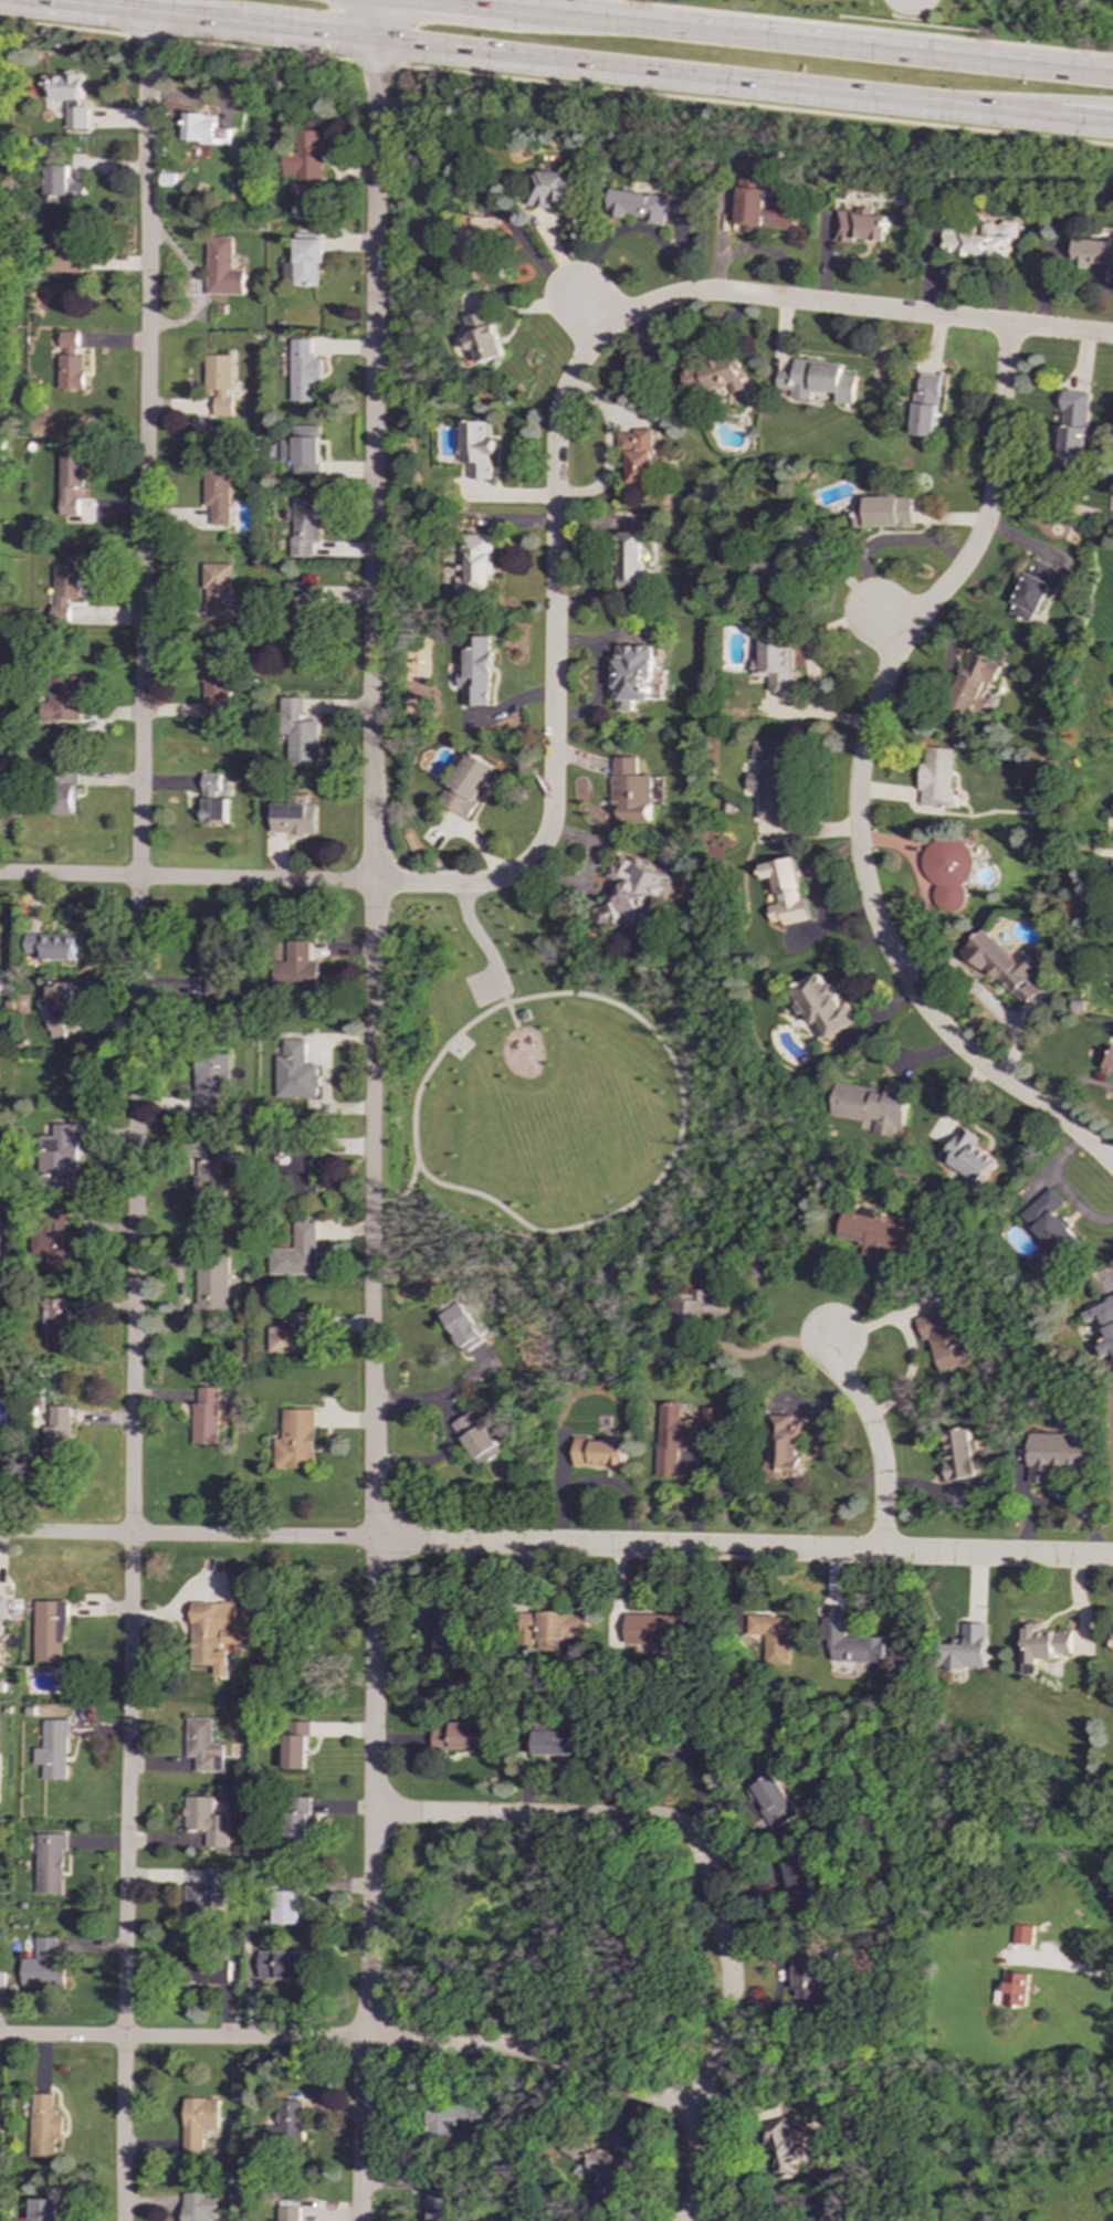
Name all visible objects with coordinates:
park: (969, 21)
road: (63, 28)
road: (859, 28)
road: (775, 36)
road: (151, 38)
road: (262, 50)
road: (556, 60)
road: (374, 62)
building: (67, 96)
road: (1030, 101)
road: (756, 105)
road: (1083, 122)
building: (204, 129)
building: (307, 164)
building: (63, 187)
building: (554, 190)
building: (638, 207)
building: (762, 208)
building: (860, 225)
building: (980, 239)
building: (475, 242)
building: (67, 253)
building: (1093, 253)
building: (304, 263)
building: (221, 269)
road: (852, 307)
road: (587, 315)
building: (482, 336)
building: (67, 340)
building: (302, 370)
building: (70, 372)
building: (716, 375)
building: (818, 381)
building: (219, 383)
building: (926, 404)
building: (1073, 429)
building: (0, 441)
building: (303, 450)
building: (638, 454)
building: (70, 482)
building: (218, 495)
building: (882, 512)
building: (305, 526)
building: (787, 560)
building: (475, 562)
building: (632, 562)
building: (67, 581)
road: (555, 586)
building: (1033, 590)
building: (218, 593)
building: (307, 593)
road: (891, 621)
building: (304, 632)
building: (776, 662)
building: (475, 672)
building: (633, 675)
building: (974, 686)
building: (217, 688)
building: (63, 696)
building: (300, 733)
road: (372, 770)
road: (140, 776)
building: (770, 779)
building: (935, 779)
road: (858, 780)
building: (469, 785)
building: (632, 790)
building: (65, 791)
building: (212, 800)
building: (295, 817)
building: (947, 870)
road: (277, 881)
building: (786, 892)
building: (631, 894)
road: (482, 943)
building: (51, 947)
building: (213, 964)
building: (1001, 965)
building: (297, 967)
road: (501, 988)
building: (821, 1004)
building: (59, 1008)
road: (512, 1014)
building: (524, 1015)
park: (458, 1046)
building: (1109, 1065)
building: (295, 1073)
building: (211, 1080)
road: (1074, 1081)
building: (873, 1105)
park: (561, 1110)
building: (60, 1156)
building: (968, 1158)
building: (295, 1171)
building: (217, 1173)
road: (403, 1191)
road: (589, 1222)
building: (1050, 1222)
building: (879, 1234)
building: (53, 1246)
building: (296, 1253)
building: (211, 1286)
building: (696, 1308)
building: (56, 1322)
building: (1101, 1323)
building: (463, 1326)
building: (294, 1335)
building: (945, 1338)
building: (207, 1417)
building: (682, 1435)
building: (59, 1436)
road: (874, 1438)
building: (296, 1440)
building: (477, 1440)
building: (784, 1448)
building: (599, 1453)
building: (958, 1454)
building: (1057, 1454)
road: (556, 1545)
building: (2, 1609)
building: (553, 1629)
building: (655, 1630)
building: (50, 1632)
building: (447, 1633)
building: (213, 1634)
building: (770, 1636)
building: (852, 1643)
building: (1043, 1646)
building: (968, 1649)
road: (340, 1728)
building: (462, 1737)
building: (296, 1744)
building: (556, 1744)
building: (203, 1746)
building: (52, 1750)
building: (693, 1754)
building: (773, 1802)
building: (207, 1821)
building: (297, 1824)
building: (50, 1864)
road: (705, 1870)
building: (800, 1875)
road: (124, 1878)
road: (370, 1881)
building: (204, 1896)
building: (1023, 1934)
building: (193, 1960)
building: (43, 1965)
building: (283, 1965)
road: (1075, 1970)
building: (808, 1975)
building: (2, 1986)
building: (1012, 1990)
road: (353, 2041)
building: (455, 2120)
building: (198, 2123)
building: (284, 2125)
building: (45, 2127)
building: (781, 2150)
building: (598, 2165)
building: (438, 2206)
building: (199, 2207)
building: (44, 2210)
building: (290, 2213)
road: (693, 2219)

